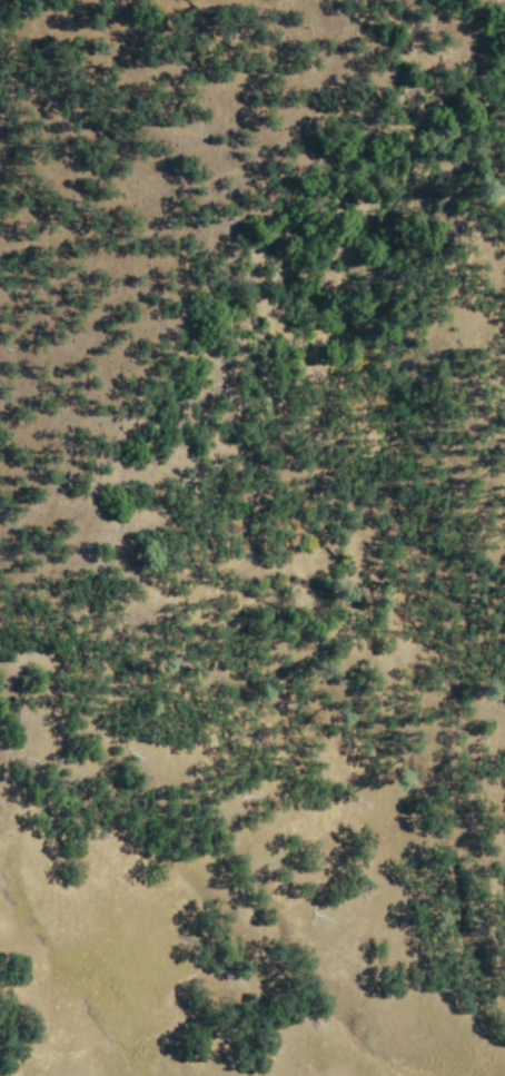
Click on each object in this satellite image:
road: (221, 176)

